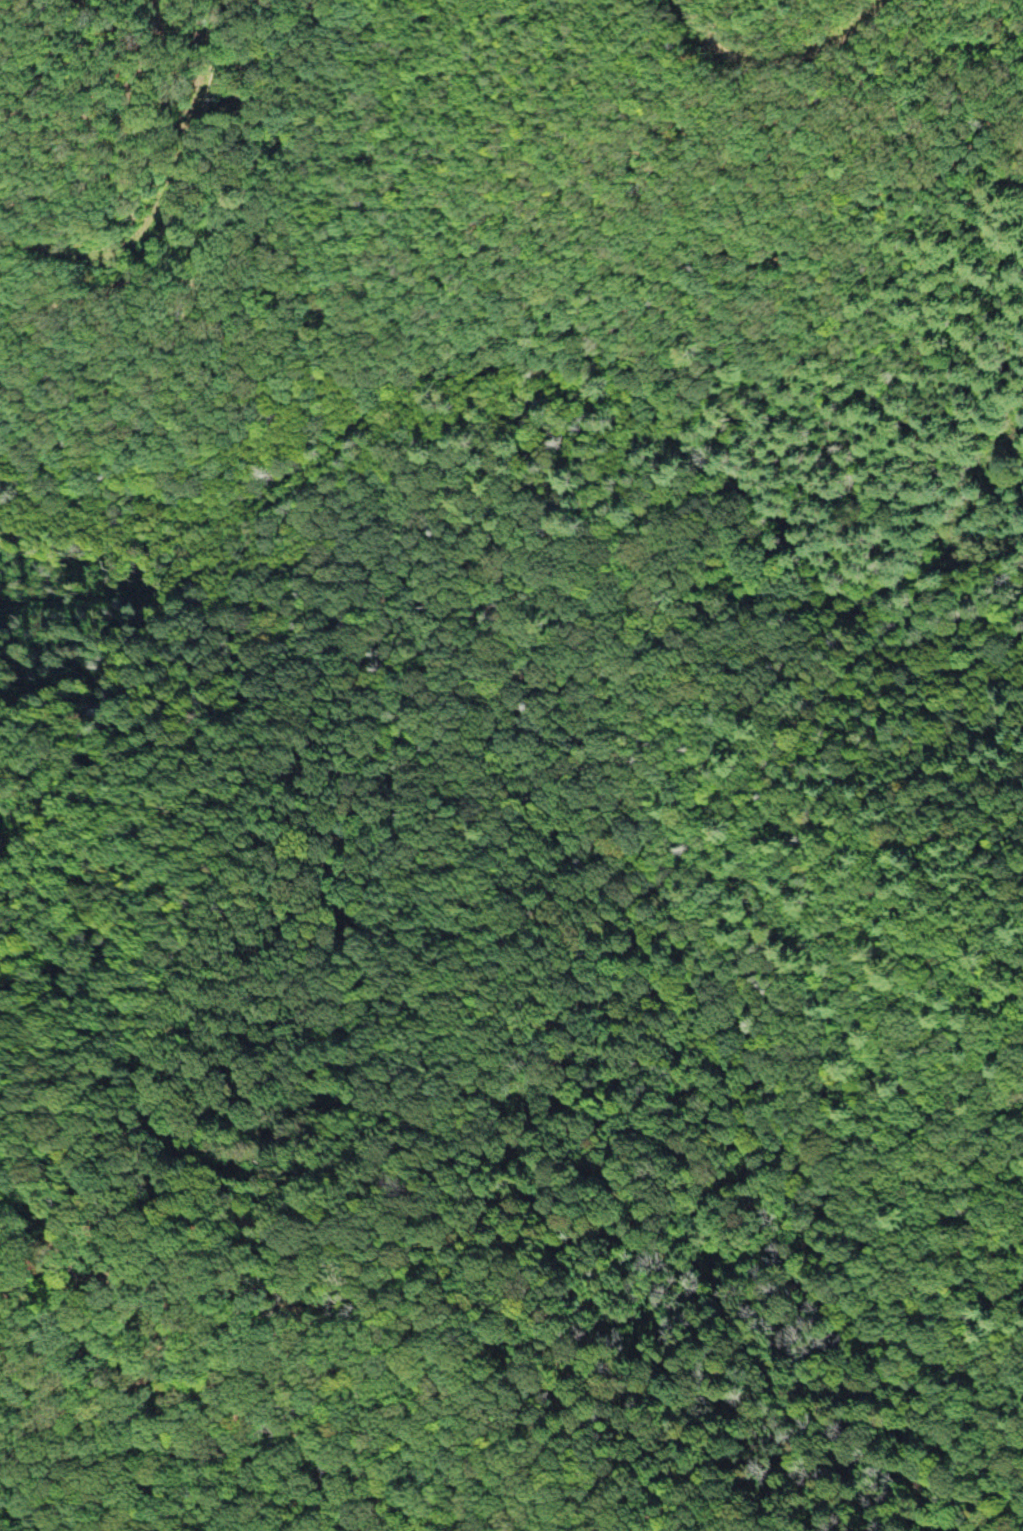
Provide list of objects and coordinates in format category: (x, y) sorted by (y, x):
road: (834, 161)

